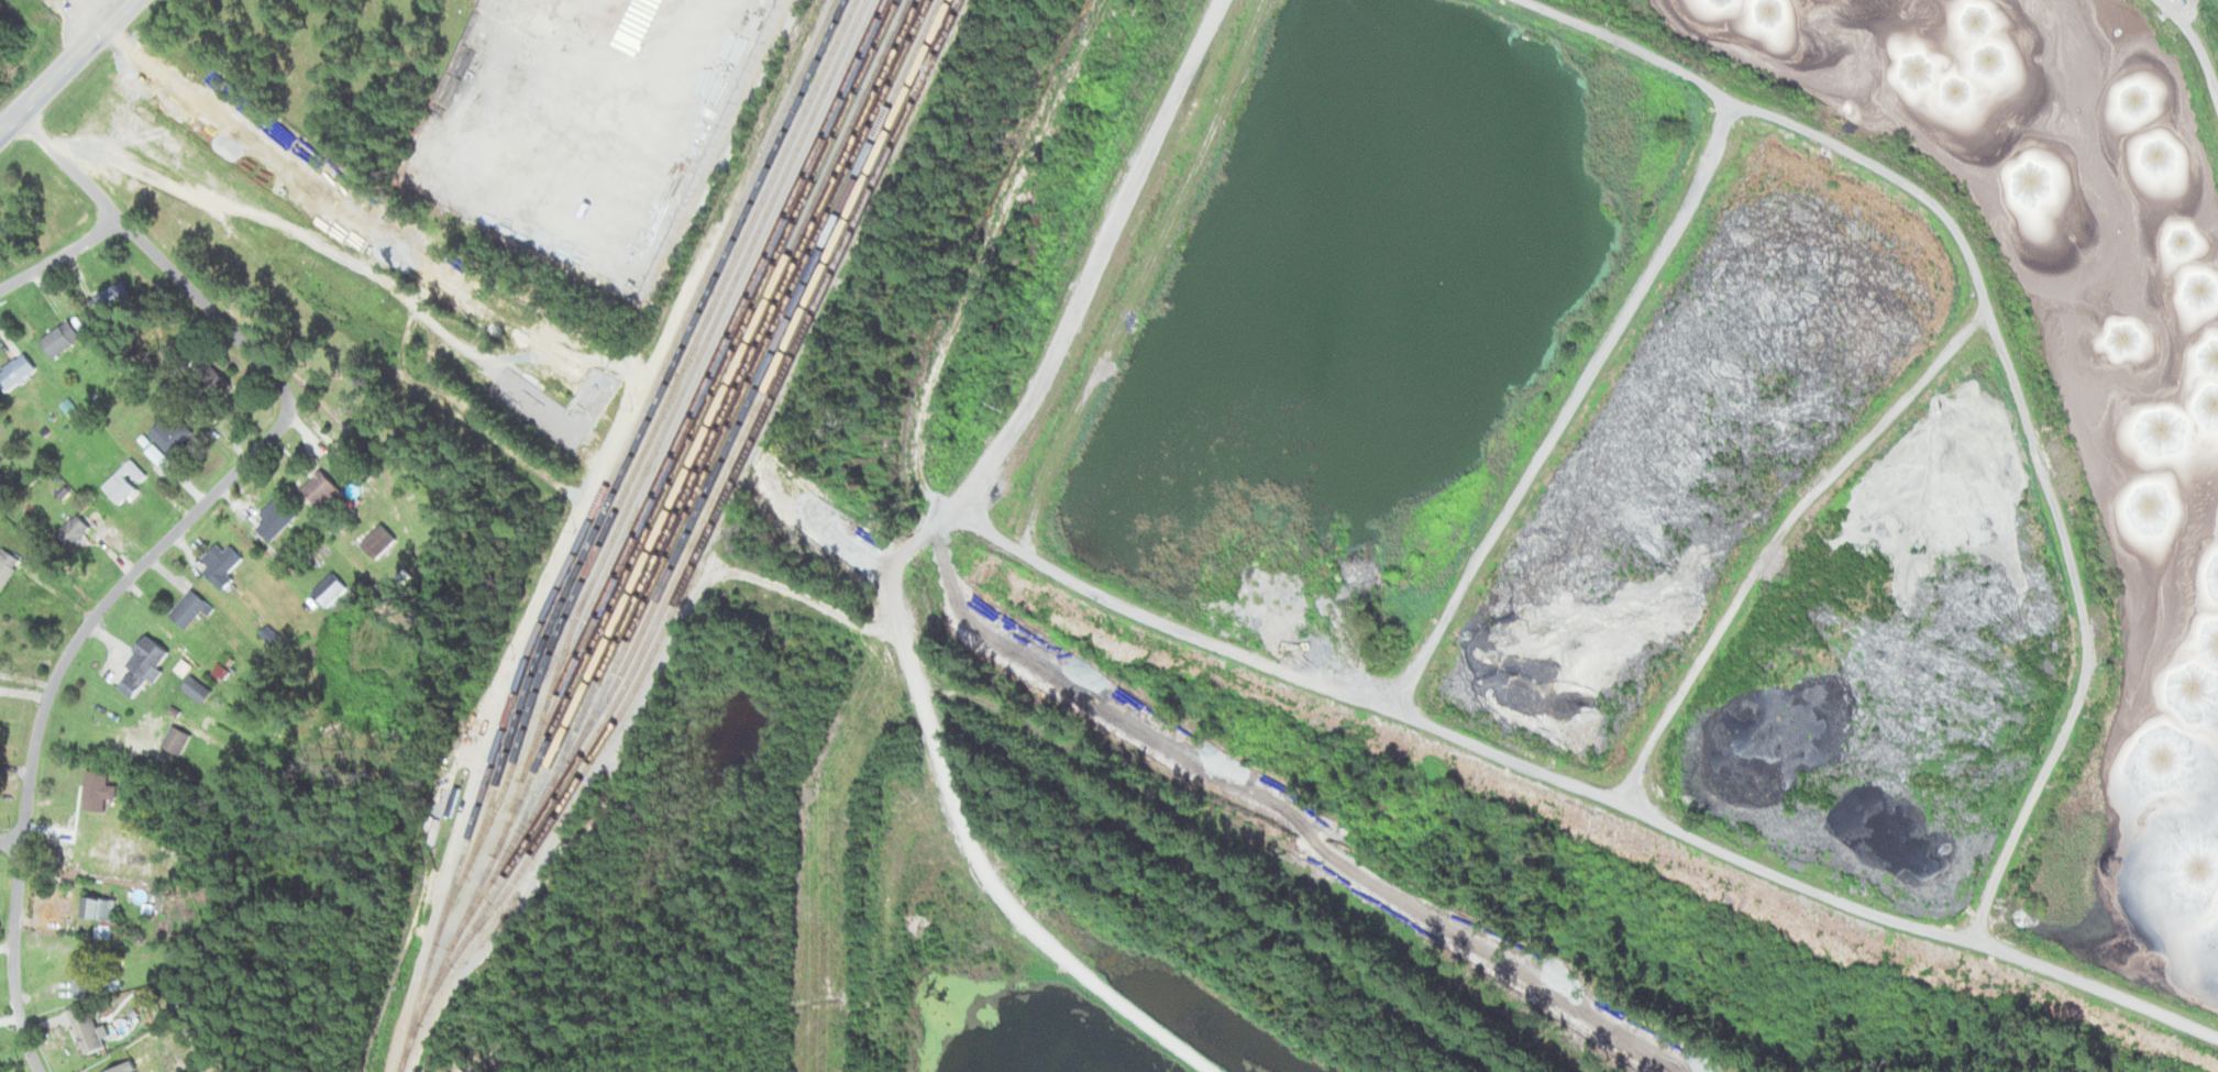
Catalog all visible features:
road: (2196, 34)
road: (1659, 54)
road: (65, 64)
power tower: (1161, 68)
road: (1891, 170)
building: (578, 173)
road: (154, 252)
road: (60, 255)
road: (1150, 277)
building: (120, 296)
building: (65, 340)
building: (20, 373)
building: (213, 384)
power tower: (1000, 404)
building: (175, 436)
railway: (637, 440)
building: (129, 483)
building: (323, 487)
railway: (647, 511)
building: (277, 520)
building: (76, 532)
building: (382, 542)
railway: (686, 543)
road: (911, 552)
building: (224, 566)
building: (9, 568)
building: (192, 610)
building: (147, 666)
road: (49, 690)
building: (200, 690)
building: (179, 741)
road: (1579, 782)
power tower: (828, 785)
building: (98, 792)
road: (11, 842)
building: (102, 914)
building: (87, 979)
building: (93, 1037)

